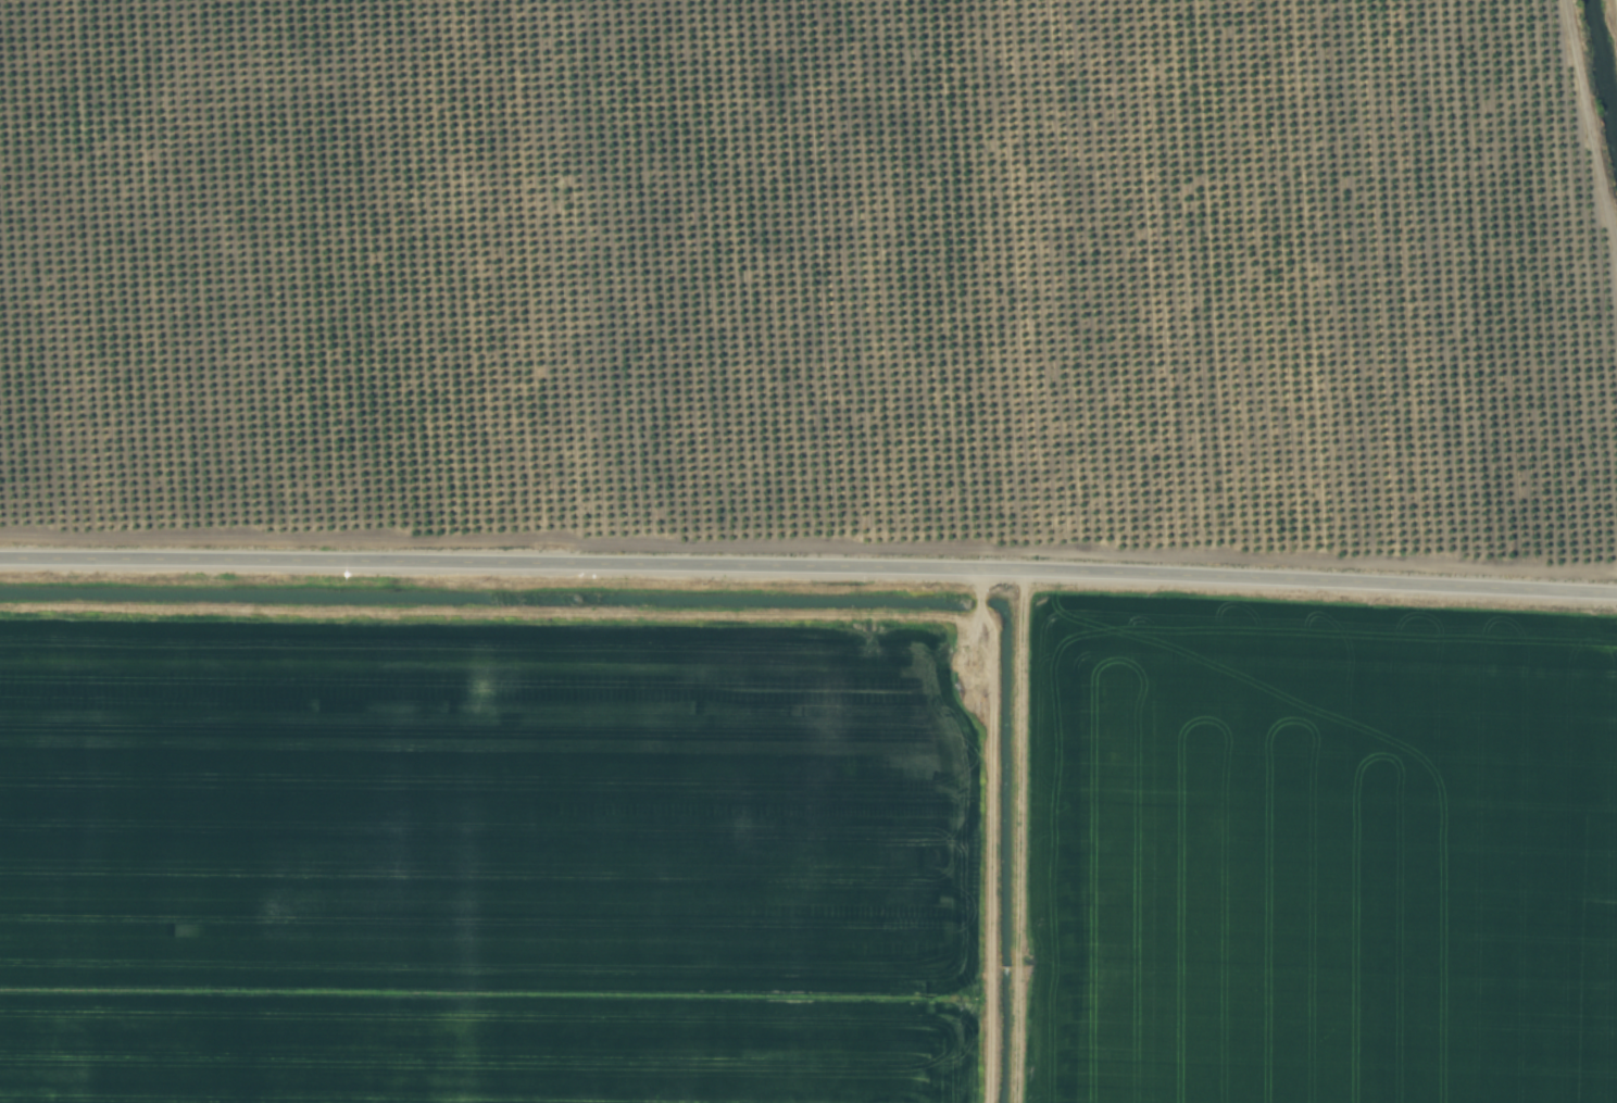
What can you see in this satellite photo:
road: (808, 569)
crop: (485, 860)

